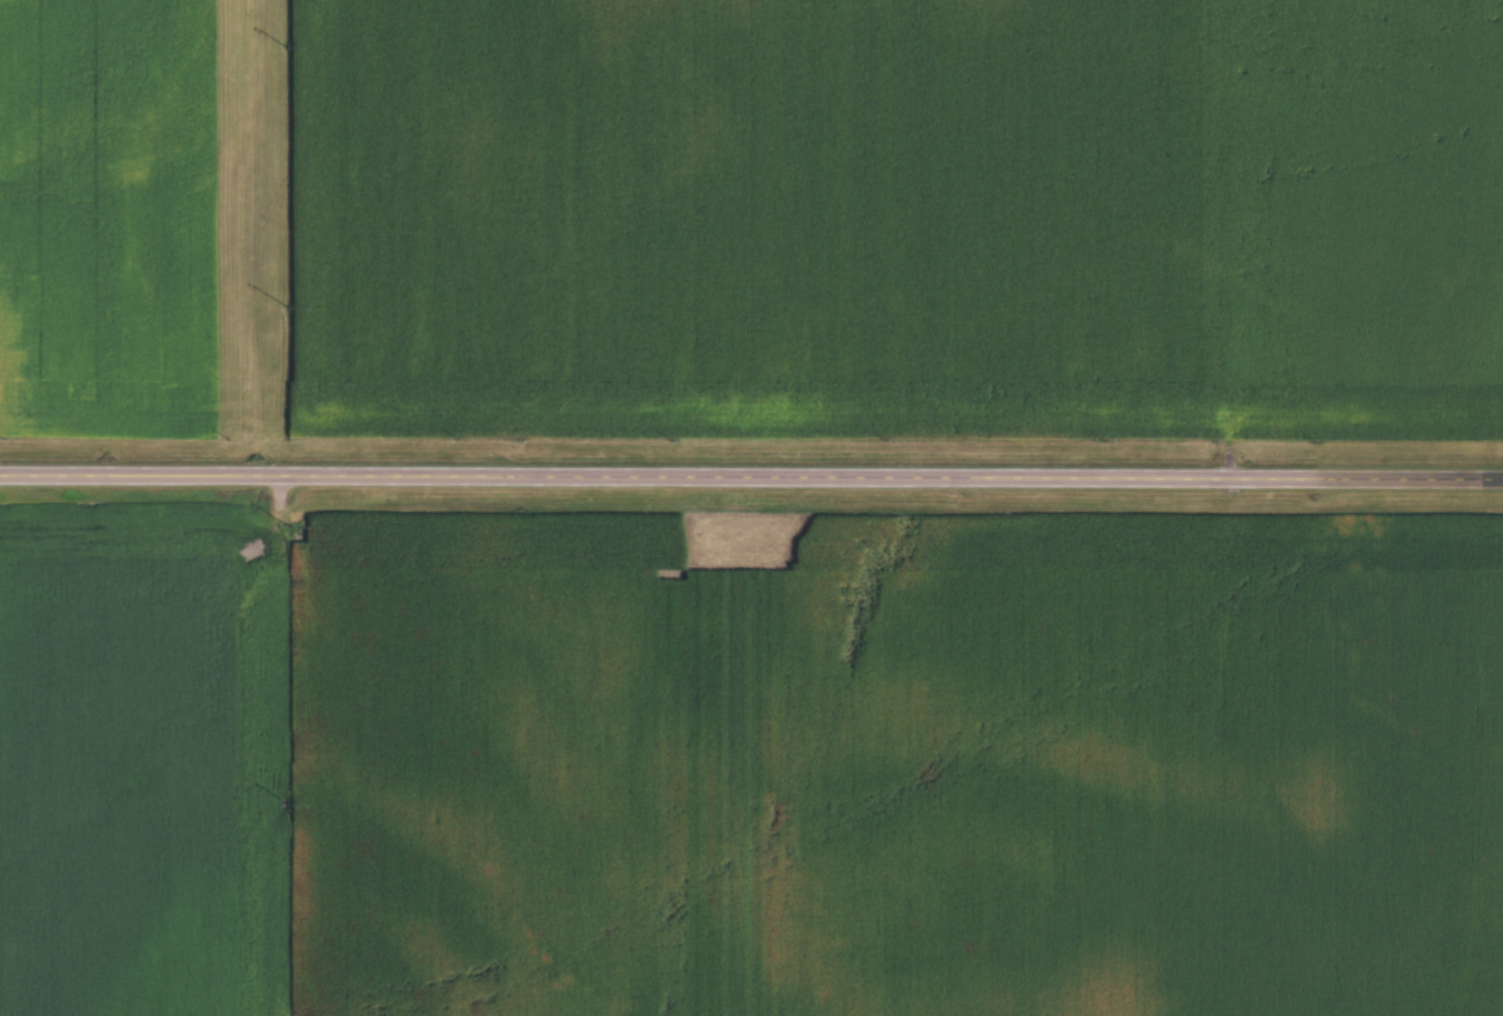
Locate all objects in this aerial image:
road: (751, 473)

